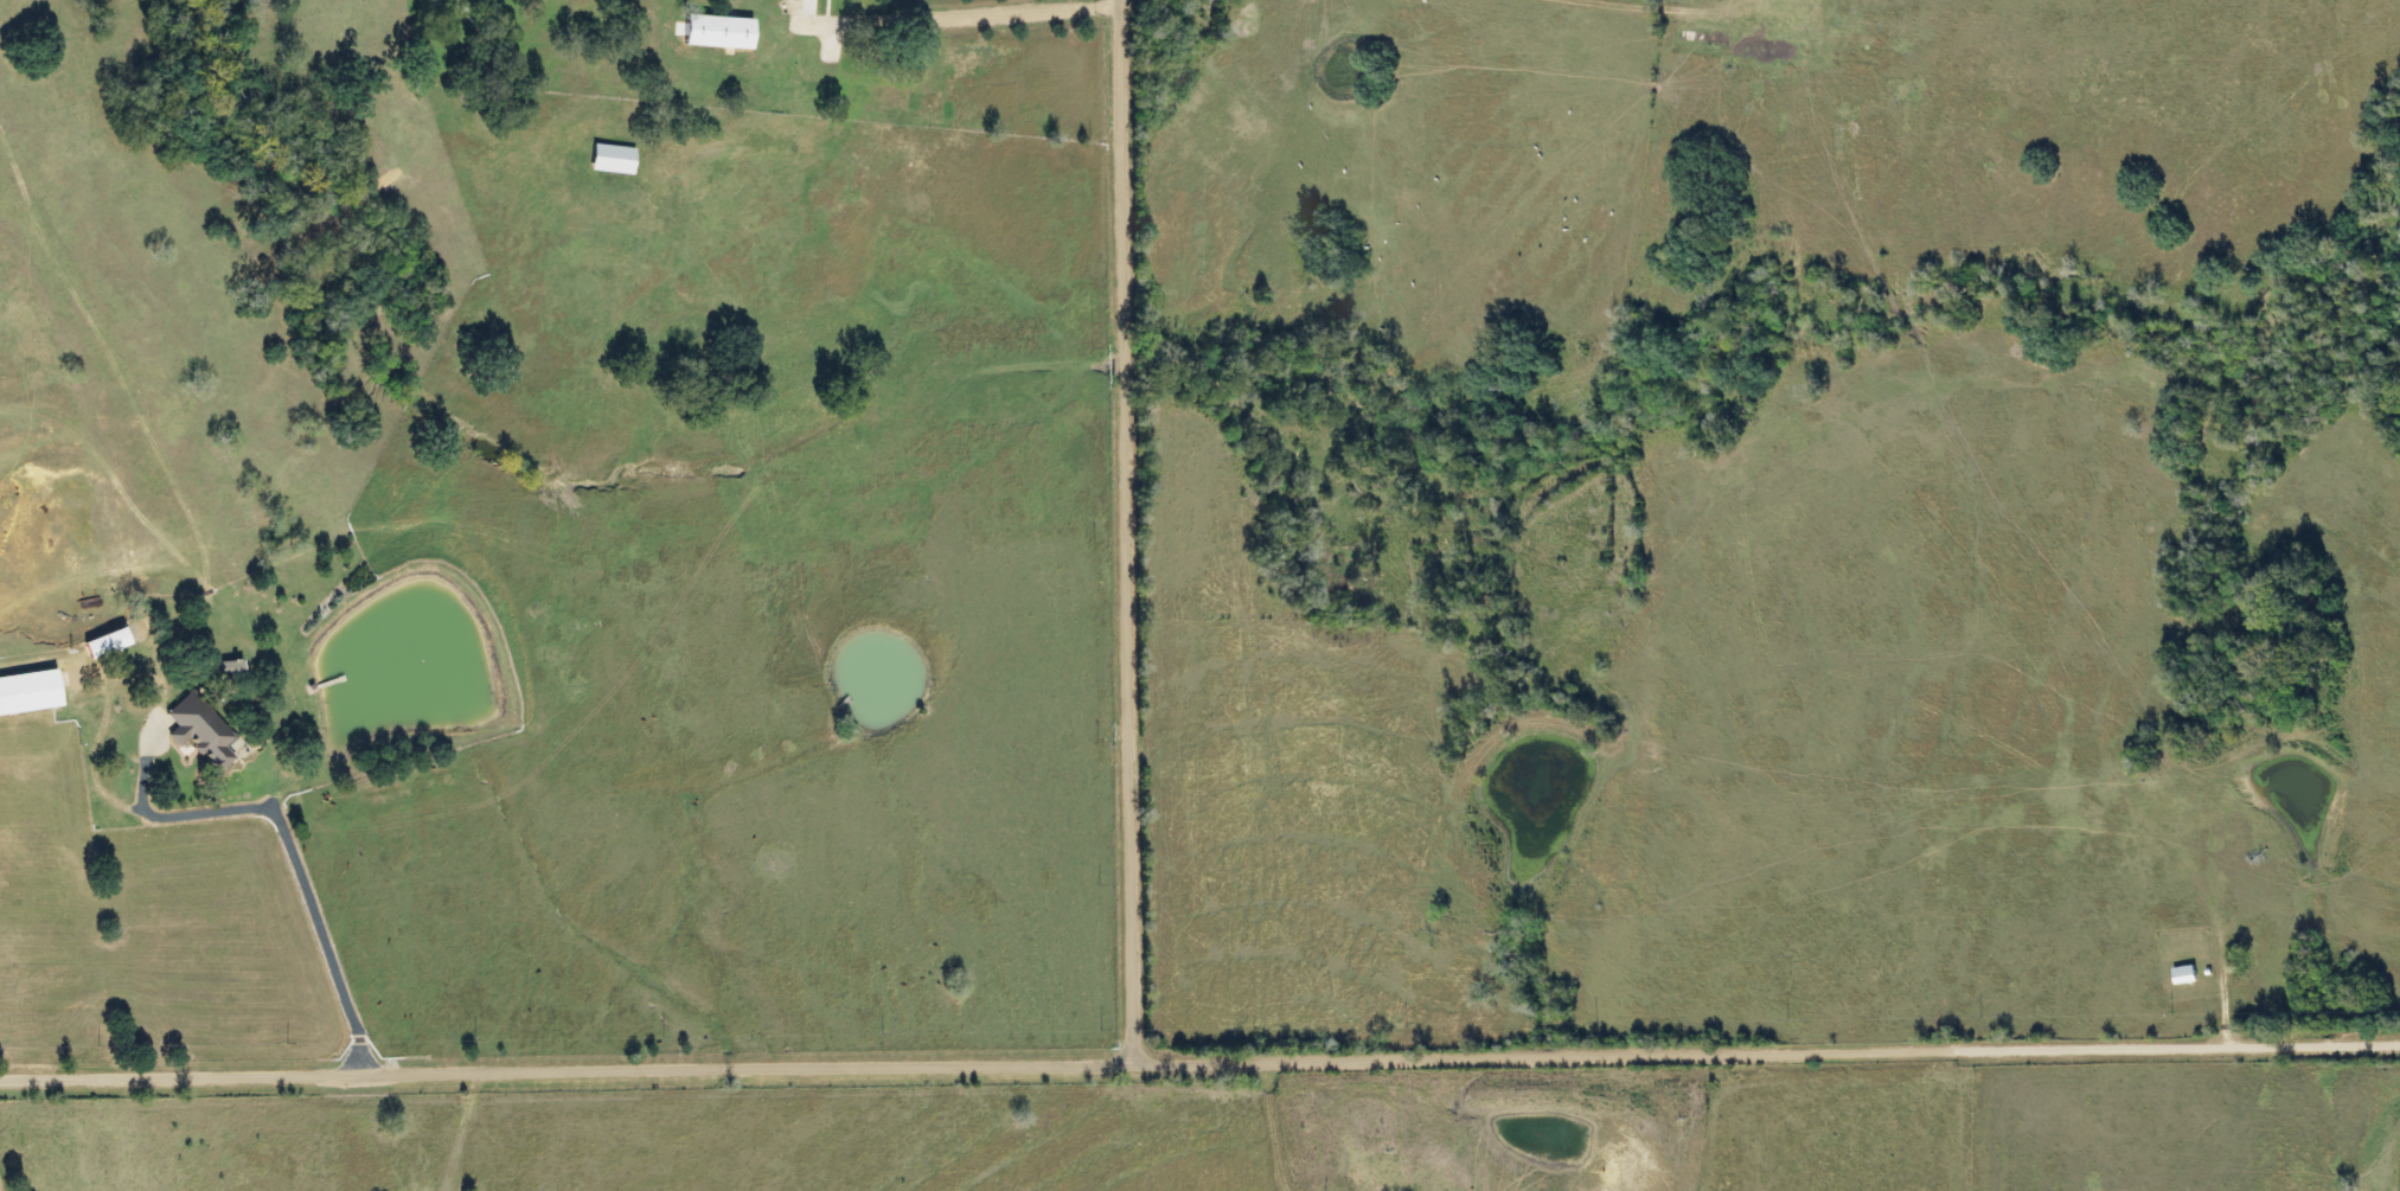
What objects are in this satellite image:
building: (721, 32)
road: (1422, 45)
building: (614, 159)
road: (641, 454)
road: (1131, 530)
building: (111, 641)
building: (232, 667)
building: (31, 690)
building: (205, 729)
road: (351, 788)
building: (2190, 974)
road: (2149, 1042)
road: (949, 1063)

